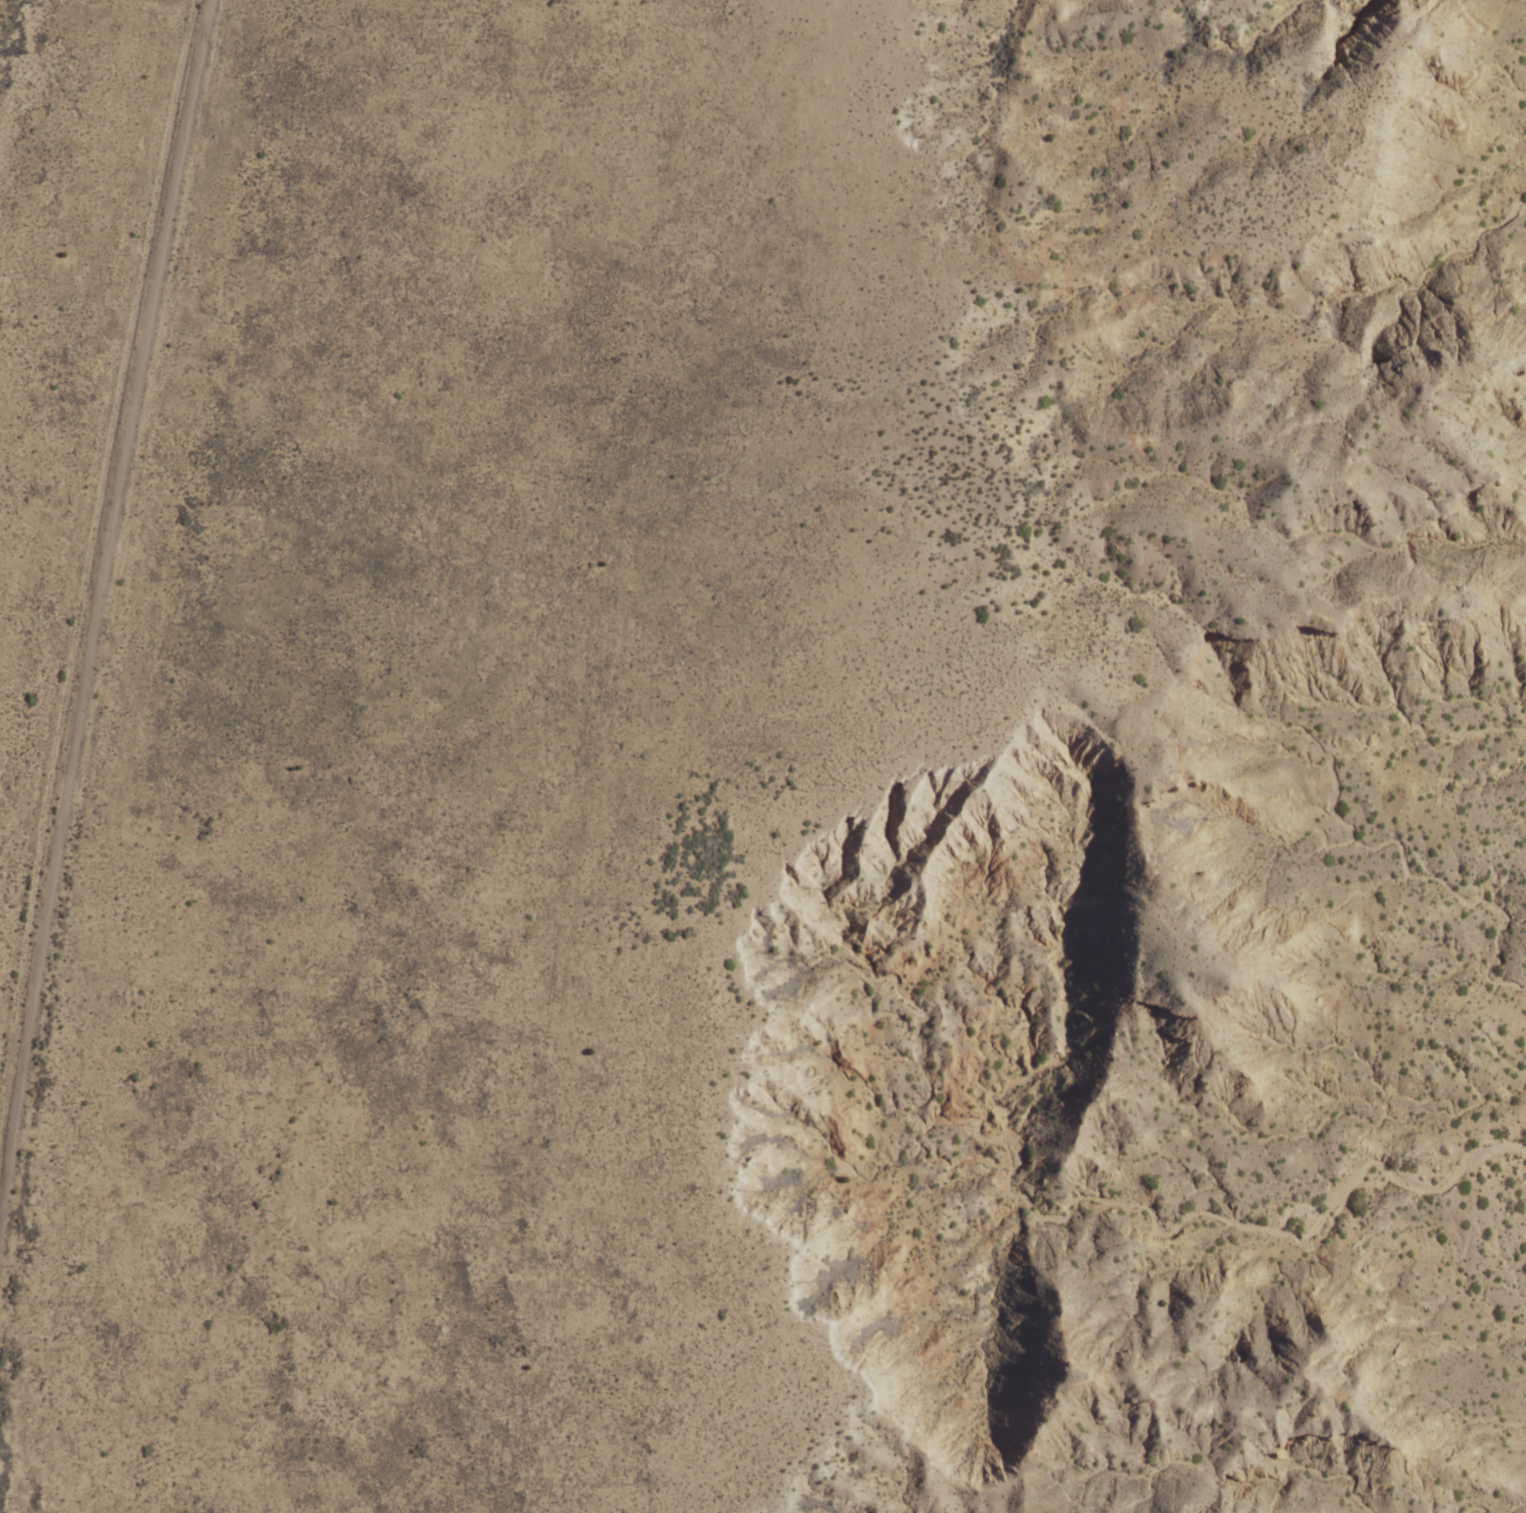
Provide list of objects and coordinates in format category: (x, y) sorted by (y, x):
road: (164, 8)
road: (208, 8)
road: (94, 620)

